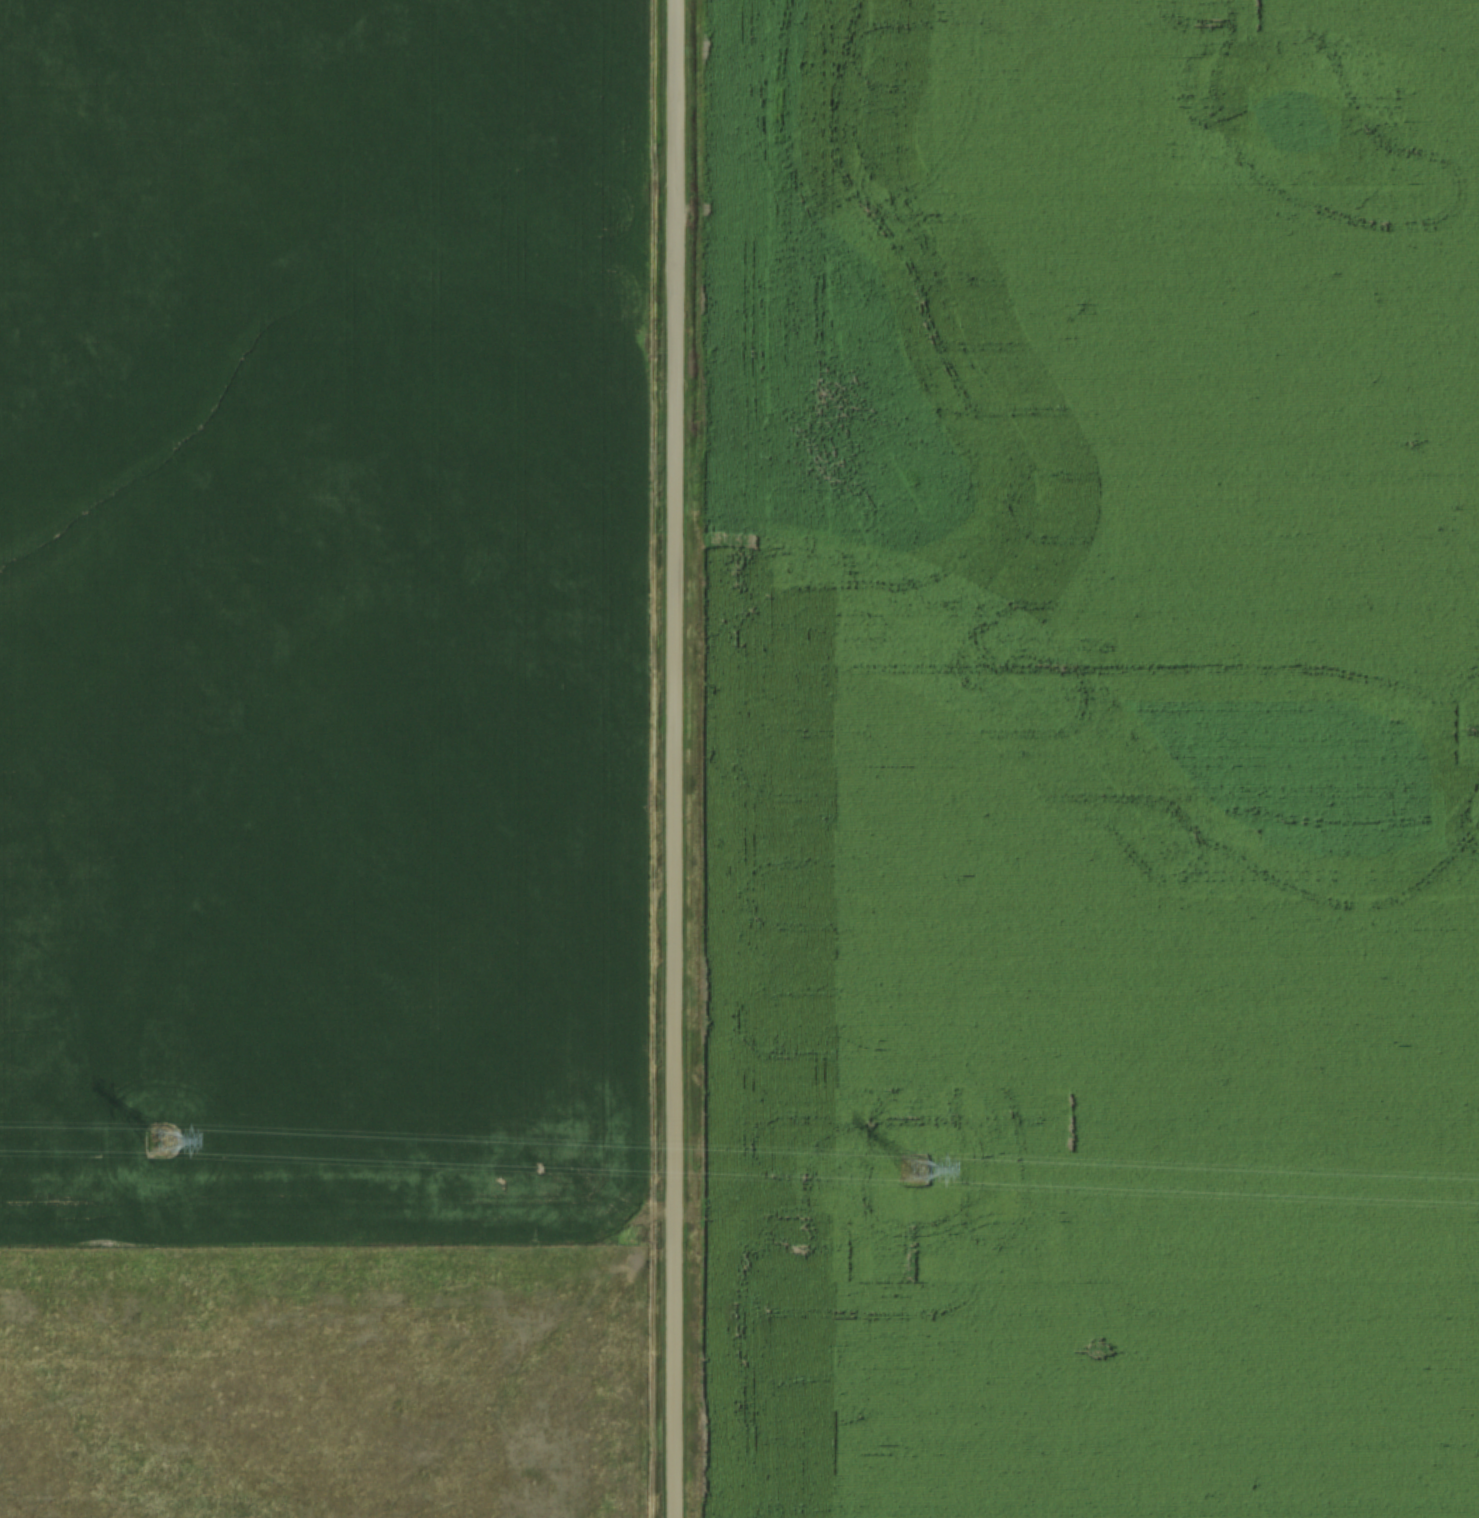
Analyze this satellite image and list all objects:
road: (673, 758)
power tower: (160, 1140)
power tower: (912, 1168)

